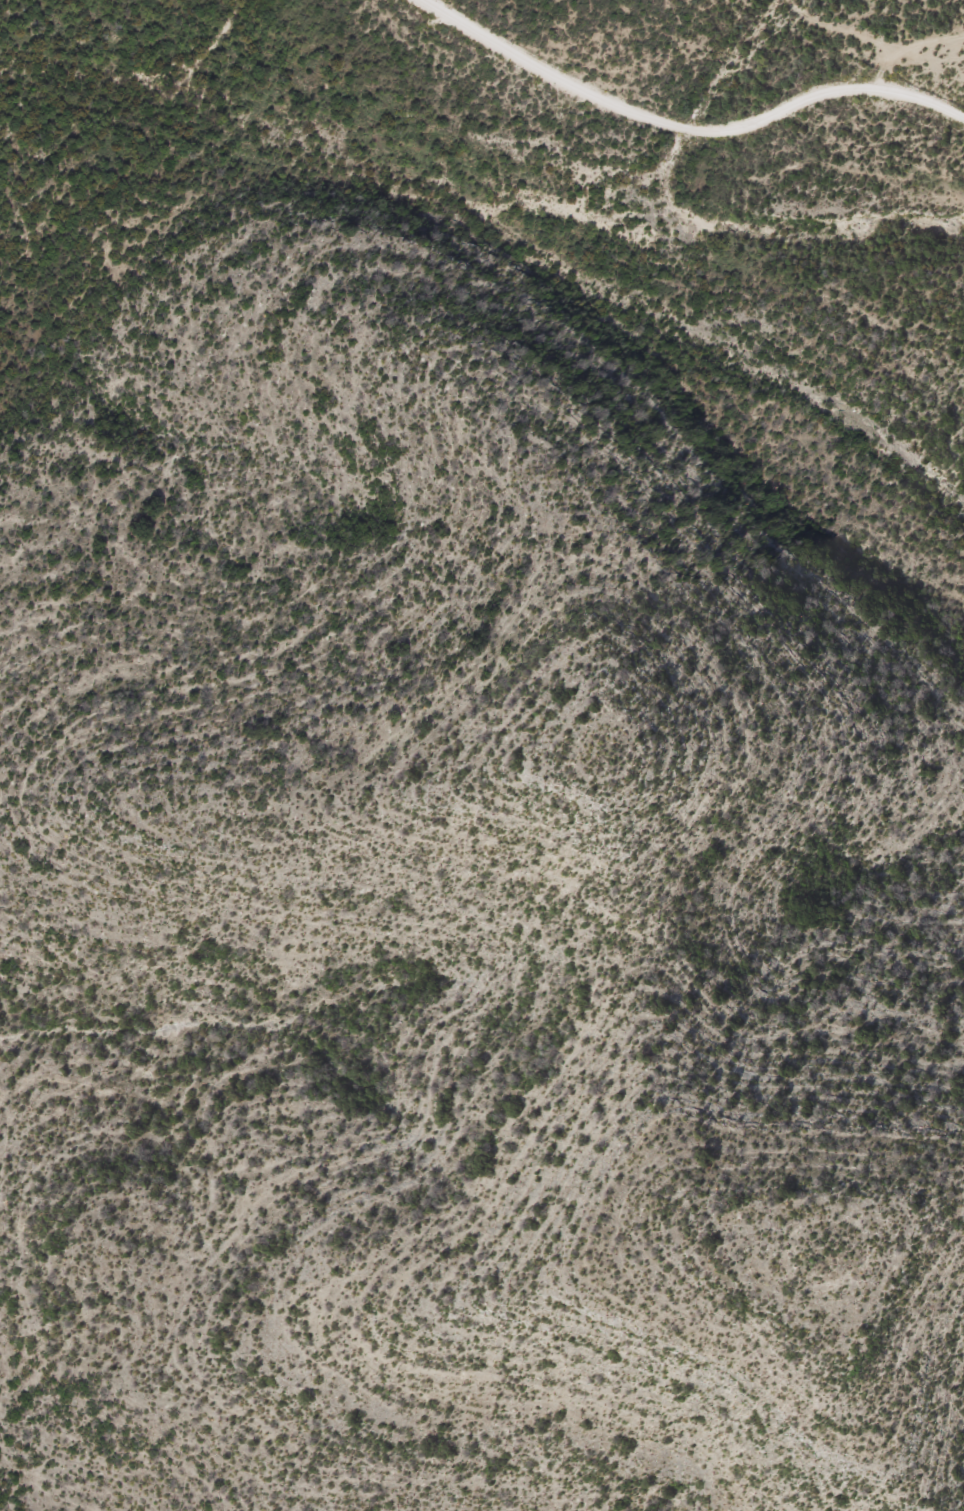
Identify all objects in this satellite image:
road: (912, 47)
road: (689, 128)

